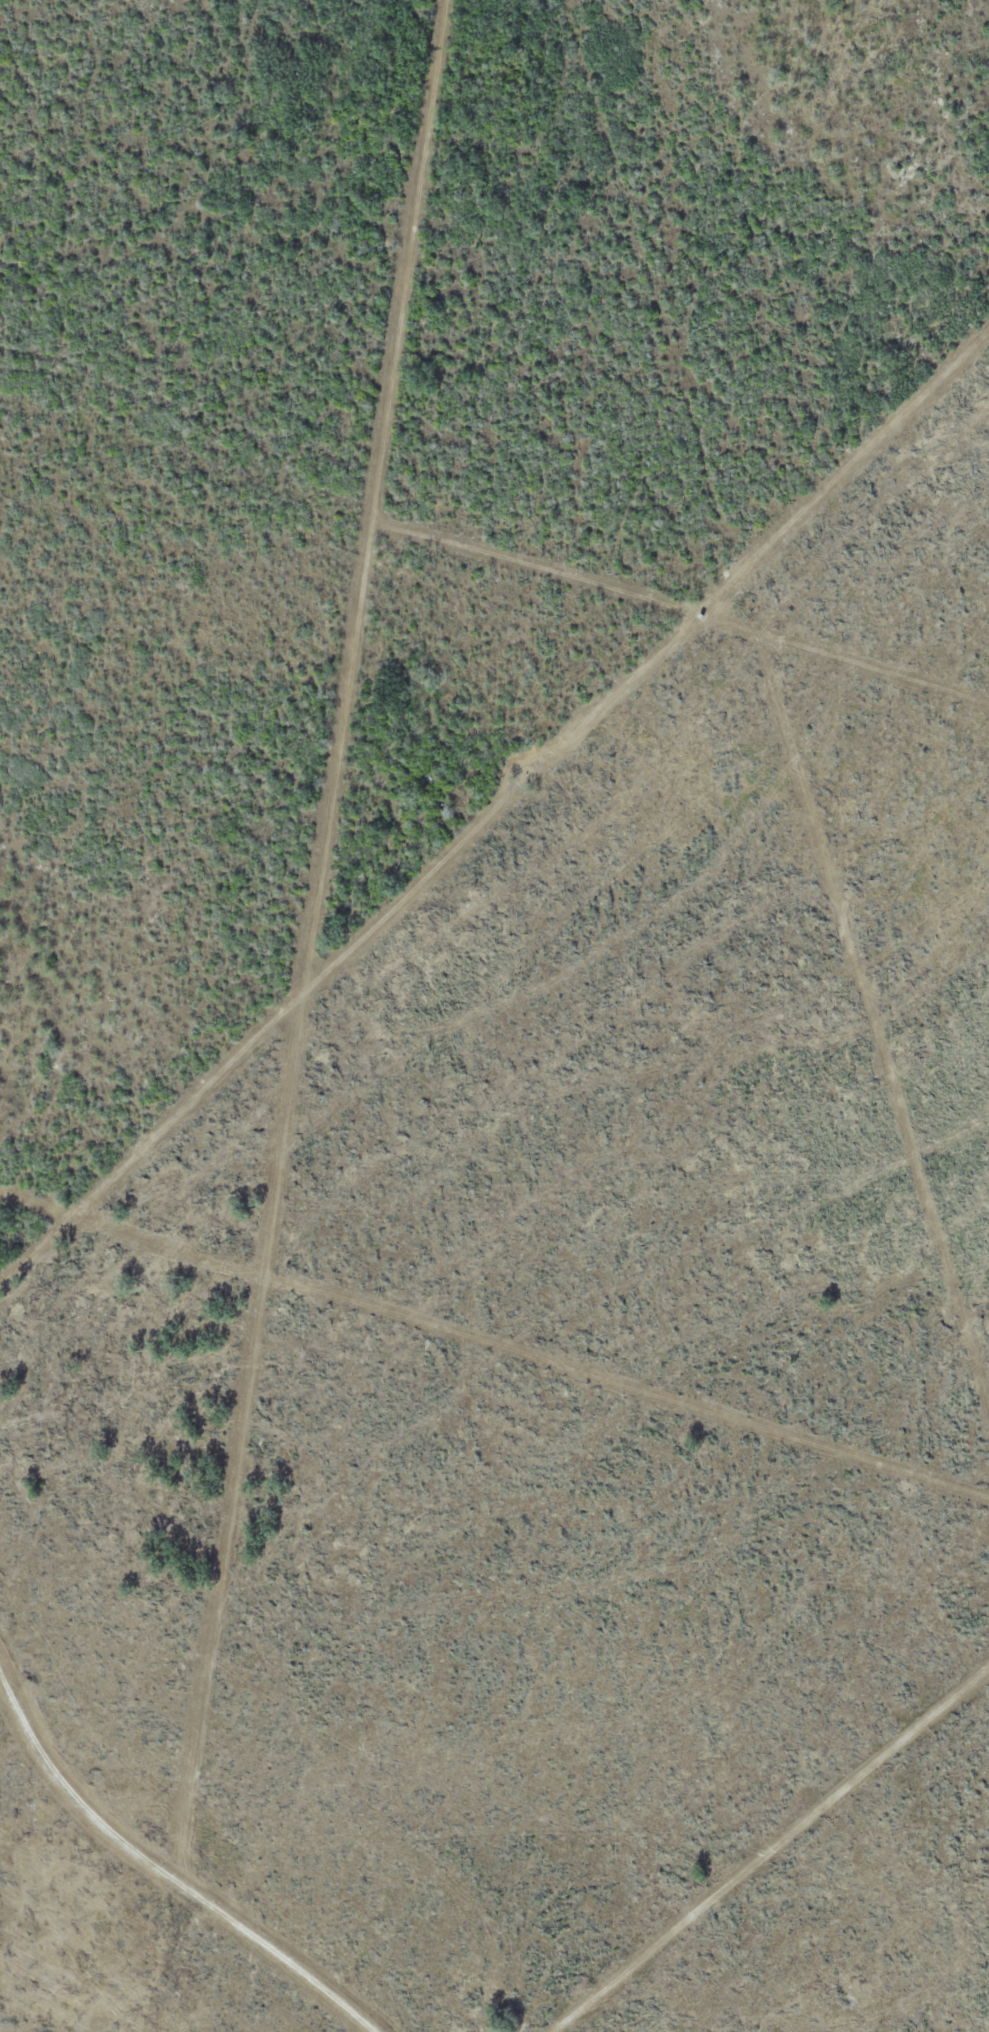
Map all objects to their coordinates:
road: (167, 1881)

